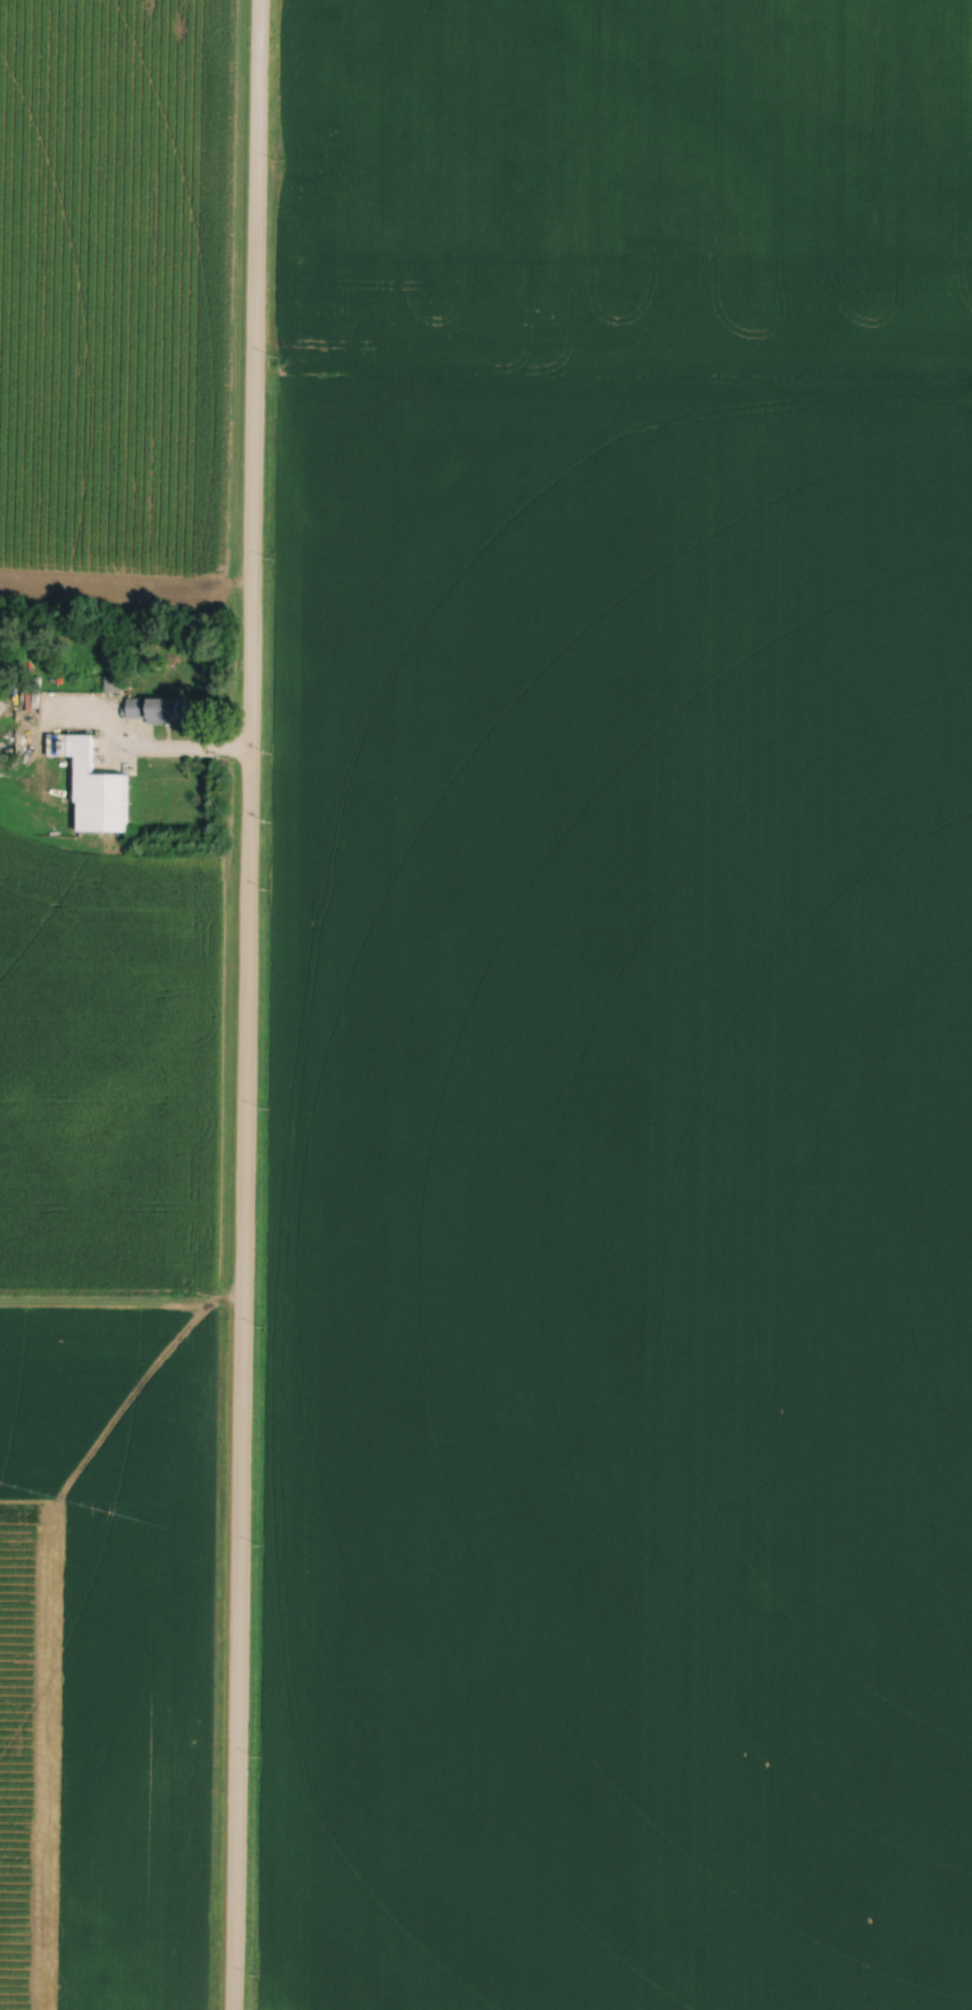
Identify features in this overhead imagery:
building: (159, 712)
road: (183, 751)
building: (97, 792)
road: (245, 1004)
road: (247, 1973)

